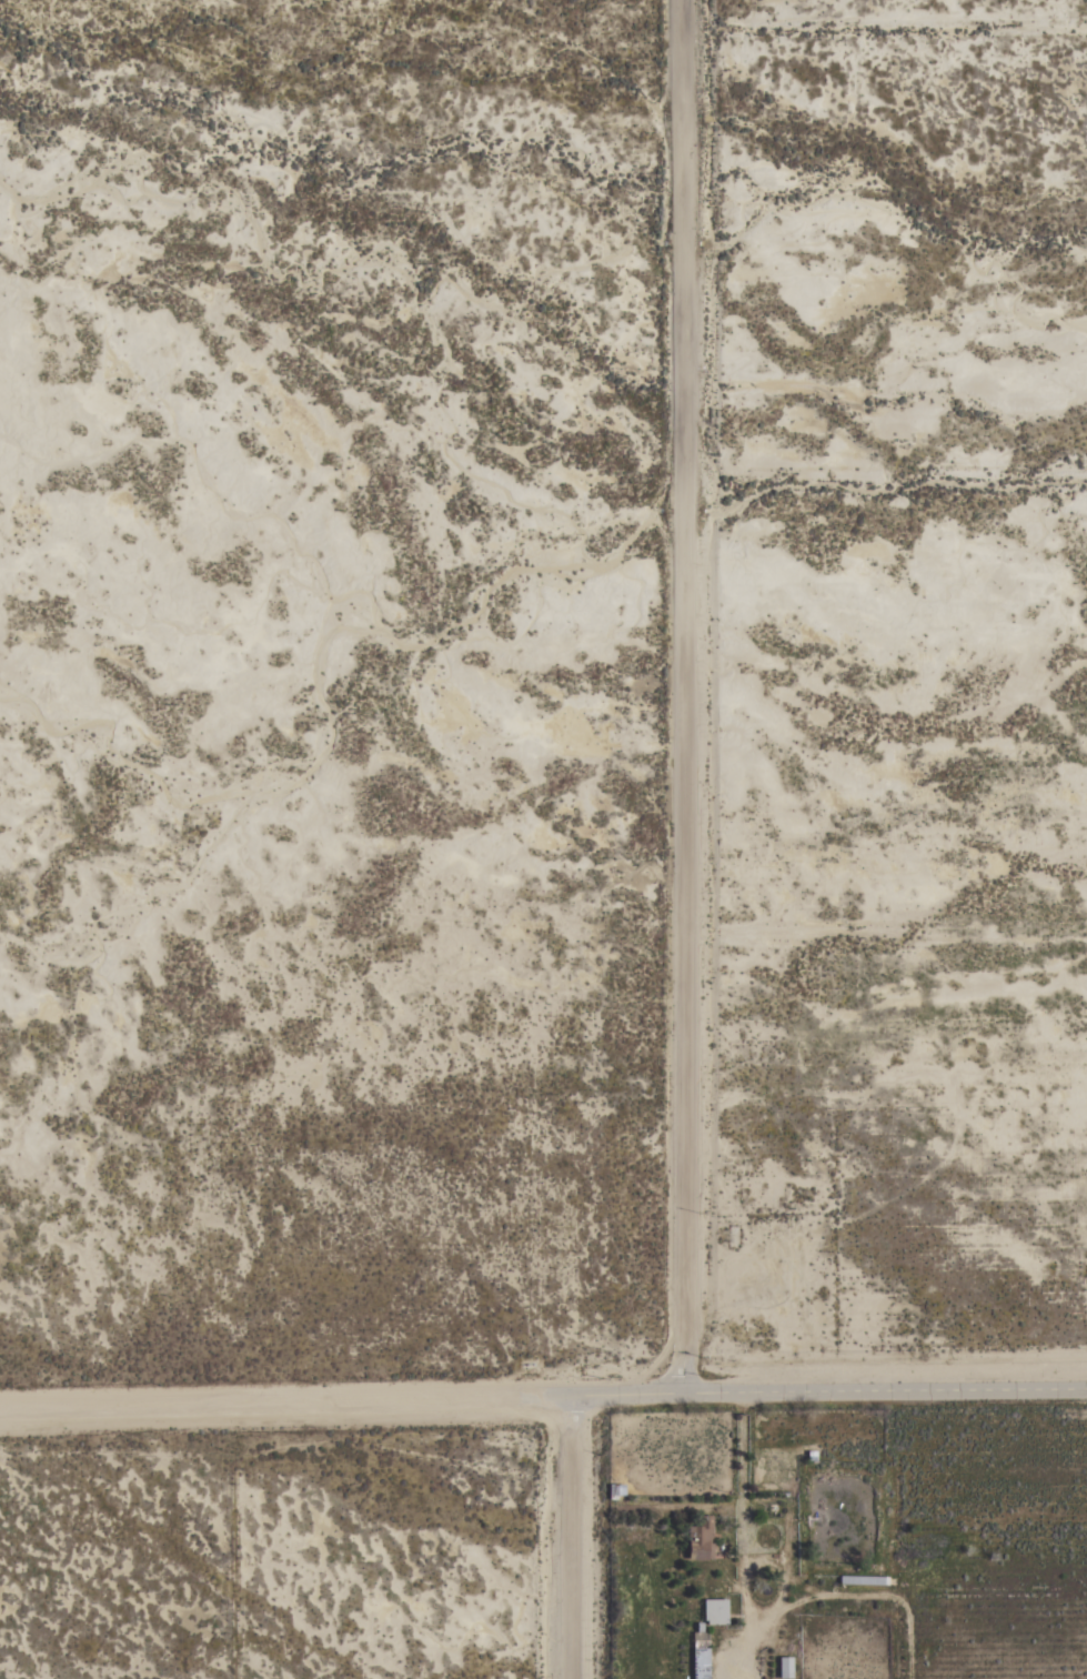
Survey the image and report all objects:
road: (686, 696)
road: (543, 1393)
building: (615, 1490)
road: (574, 1536)
building: (701, 1539)
building: (863, 1580)
building: (719, 1586)
building: (715, 1611)
building: (701, 1640)
building: (701, 1663)
building: (785, 1668)

